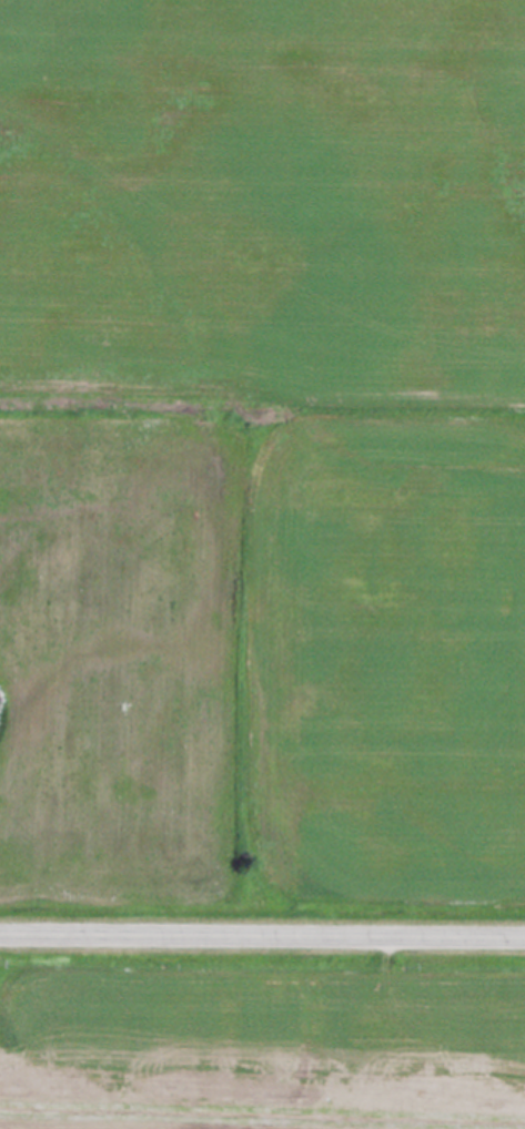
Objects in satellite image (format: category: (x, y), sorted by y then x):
road: (262, 934)

